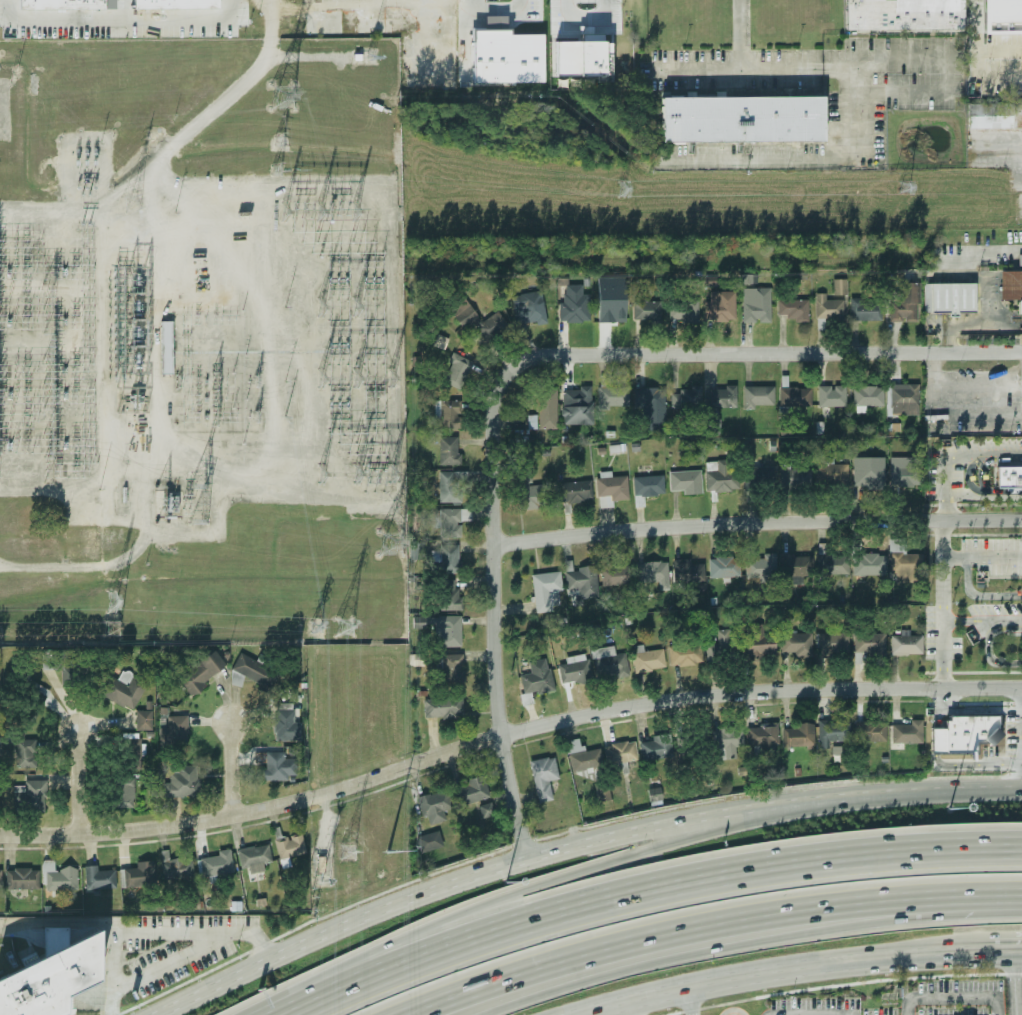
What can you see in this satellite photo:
building: (171, 4)
building: (57, 6)
road: (496, 9)
building: (903, 14)
road: (586, 16)
building: (1001, 16)
road: (119, 23)
road: (740, 36)
parking lot: (991, 53)
building: (578, 55)
road: (311, 57)
road: (739, 72)
power tower: (284, 97)
building: (1016, 112)
building: (988, 115)
building: (742, 117)
power tower: (278, 139)
road: (172, 147)
power tower: (275, 170)
power tower: (907, 188)
power tower: (620, 189)
power tower: (130, 203)
building: (1019, 259)
building: (748, 279)
building: (840, 286)
building: (1011, 287)
building: (947, 297)
building: (906, 302)
building: (758, 304)
building: (721, 305)
building: (829, 307)
building: (530, 309)
building: (574, 309)
building: (796, 309)
building: (611, 310)
building: (867, 310)
building: (647, 311)
building: (684, 311)
building: (1021, 320)
building: (488, 327)
building: (1021, 331)
power substation: (200, 342)
building: (167, 347)
road: (825, 353)
building: (457, 370)
power tower: (255, 382)
road: (959, 388)
building: (794, 395)
building: (723, 396)
building: (832, 396)
building: (868, 396)
building: (613, 397)
building: (759, 397)
building: (687, 398)
building: (903, 399)
building: (577, 405)
building: (652, 407)
building: (545, 411)
building: (448, 412)
power tower: (254, 416)
building: (715, 426)
parking lot: (988, 445)
building: (451, 450)
road: (986, 455)
building: (906, 469)
building: (833, 473)
building: (869, 474)
road: (980, 474)
building: (1009, 475)
parking lot: (940, 476)
road: (969, 476)
building: (759, 477)
building: (722, 478)
building: (796, 479)
building: (686, 483)
building: (452, 485)
building: (647, 487)
road: (945, 487)
building: (612, 488)
building: (576, 491)
building: (529, 492)
road: (983, 497)
building: (451, 520)
road: (756, 525)
power tower: (392, 544)
building: (417, 551)
road: (981, 554)
parking lot: (999, 554)
road: (492, 556)
building: (448, 557)
building: (833, 564)
building: (869, 564)
building: (905, 565)
building: (725, 567)
building: (761, 567)
building: (796, 567)
building: (687, 571)
building: (653, 573)
road: (967, 575)
building: (617, 576)
building: (582, 582)
building: (547, 591)
building: (451, 594)
power tower: (110, 603)
road: (942, 603)
parking lot: (995, 610)
road: (982, 619)
power tower: (314, 628)
power tower: (341, 628)
power tower: (110, 629)
building: (448, 631)
parking lot: (939, 639)
building: (759, 643)
building: (834, 644)
building: (907, 644)
building: (797, 645)
building: (870, 645)
road: (988, 646)
building: (722, 647)
building: (685, 655)
building: (648, 659)
building: (57, 660)
building: (609, 662)
building: (453, 667)
building: (576, 670)
building: (202, 673)
building: (253, 673)
building: (536, 679)
building: (125, 690)
building: (33, 702)
building: (444, 708)
road: (973, 710)
building: (144, 720)
building: (285, 721)
road: (505, 731)
building: (871, 731)
building: (175, 732)
building: (833, 732)
building: (907, 733)
building: (968, 733)
building: (762, 735)
building: (799, 735)
building: (728, 740)
building: (693, 741)
building: (937, 741)
building: (655, 748)
building: (836, 751)
building: (620, 752)
building: (26, 753)
building: (131, 753)
building: (583, 757)
road: (230, 766)
building: (278, 766)
building: (544, 778)
road: (77, 780)
building: (183, 782)
building: (472, 790)
building: (123, 792)
building: (603, 792)
building: (30, 796)
building: (435, 805)
building: (487, 810)
building: (430, 841)
building: (291, 846)
road: (573, 846)
power tower: (346, 852)
power tower: (387, 852)
building: (254, 857)
building: (217, 863)
building: (177, 867)
building: (140, 874)
building: (59, 876)
power tower: (320, 876)
building: (1, 877)
building: (100, 877)
building: (22, 878)
road: (524, 886)
road: (649, 894)
road: (58, 921)
road: (713, 923)
road: (198, 931)
road: (756, 936)
parking lot: (177, 946)
road: (1008, 952)
road: (175, 960)
road: (785, 971)
road: (113, 973)
building: (50, 980)
road: (1014, 983)
road: (952, 996)
road: (692, 1001)
parking lot: (912, 1001)
flagpole: (881, 1003)
flagpole: (887, 1003)
flagpole: (893, 1003)
road: (995, 1005)
road: (908, 1006)
road: (807, 1014)

